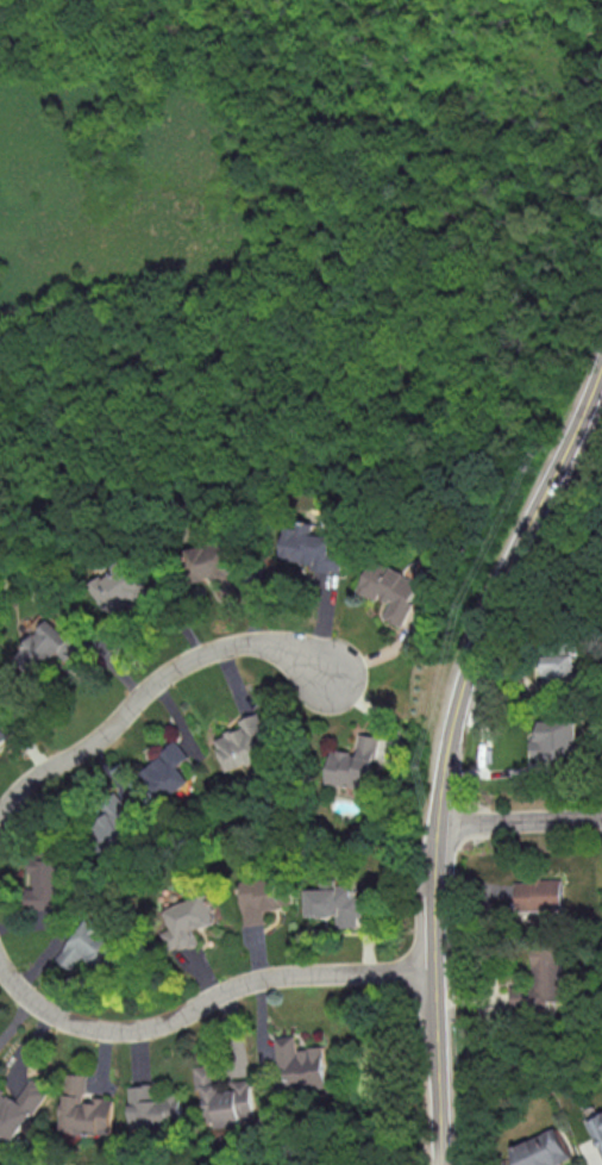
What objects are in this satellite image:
building: (121, 588)
building: (395, 594)
building: (51, 646)
building: (558, 667)
road: (149, 692)
road: (527, 693)
building: (557, 740)
building: (244, 742)
road: (447, 752)
building: (356, 762)
building: (169, 771)
road: (520, 824)
building: (114, 827)
building: (48, 873)
building: (539, 893)
building: (265, 897)
building: (337, 902)
building: (189, 920)
building: (92, 945)
building: (541, 980)
road: (203, 1003)
building: (302, 1063)
building: (227, 1095)
building: (20, 1108)
building: (153, 1108)
building: (87, 1110)
building: (597, 1127)
building: (543, 1150)

